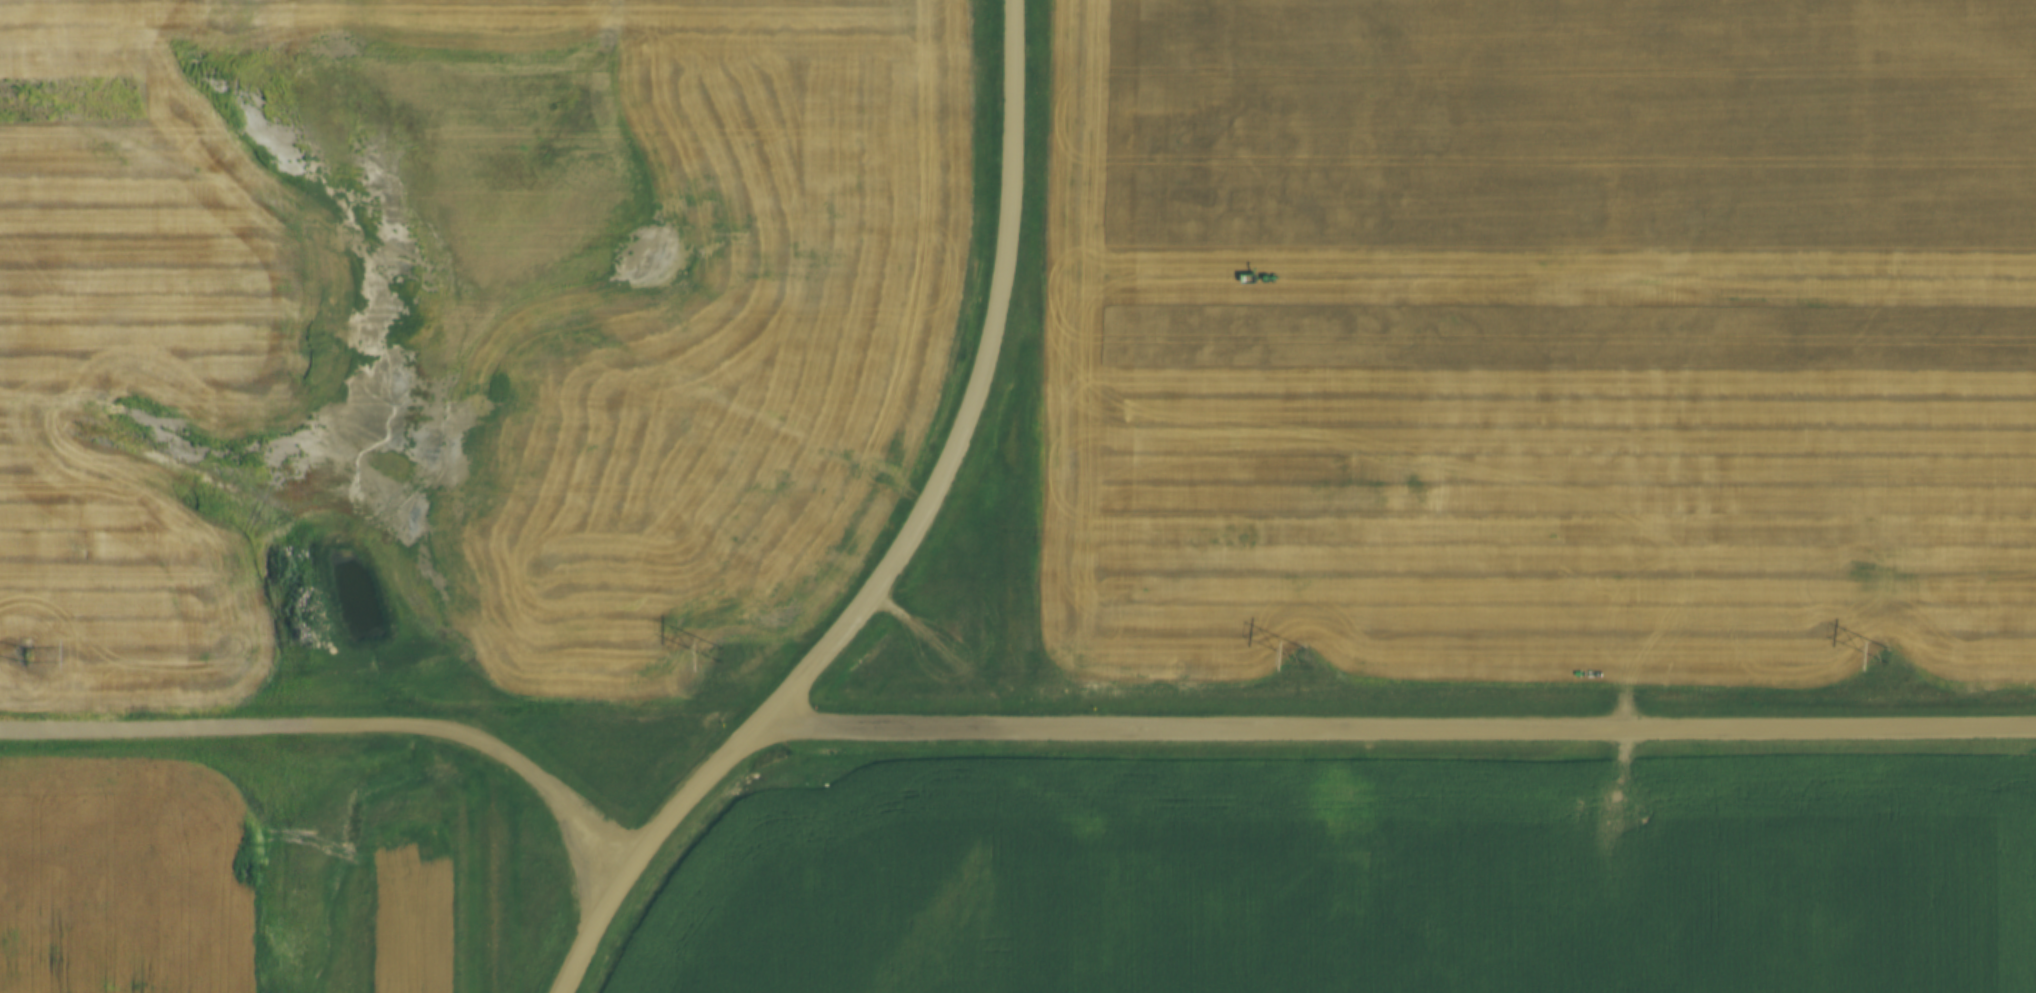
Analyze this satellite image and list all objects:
road: (995, 402)
power tower: (1876, 653)
power tower: (10, 655)
power tower: (1288, 657)
power tower: (704, 658)
road: (338, 724)
road: (1392, 726)
road: (639, 852)

